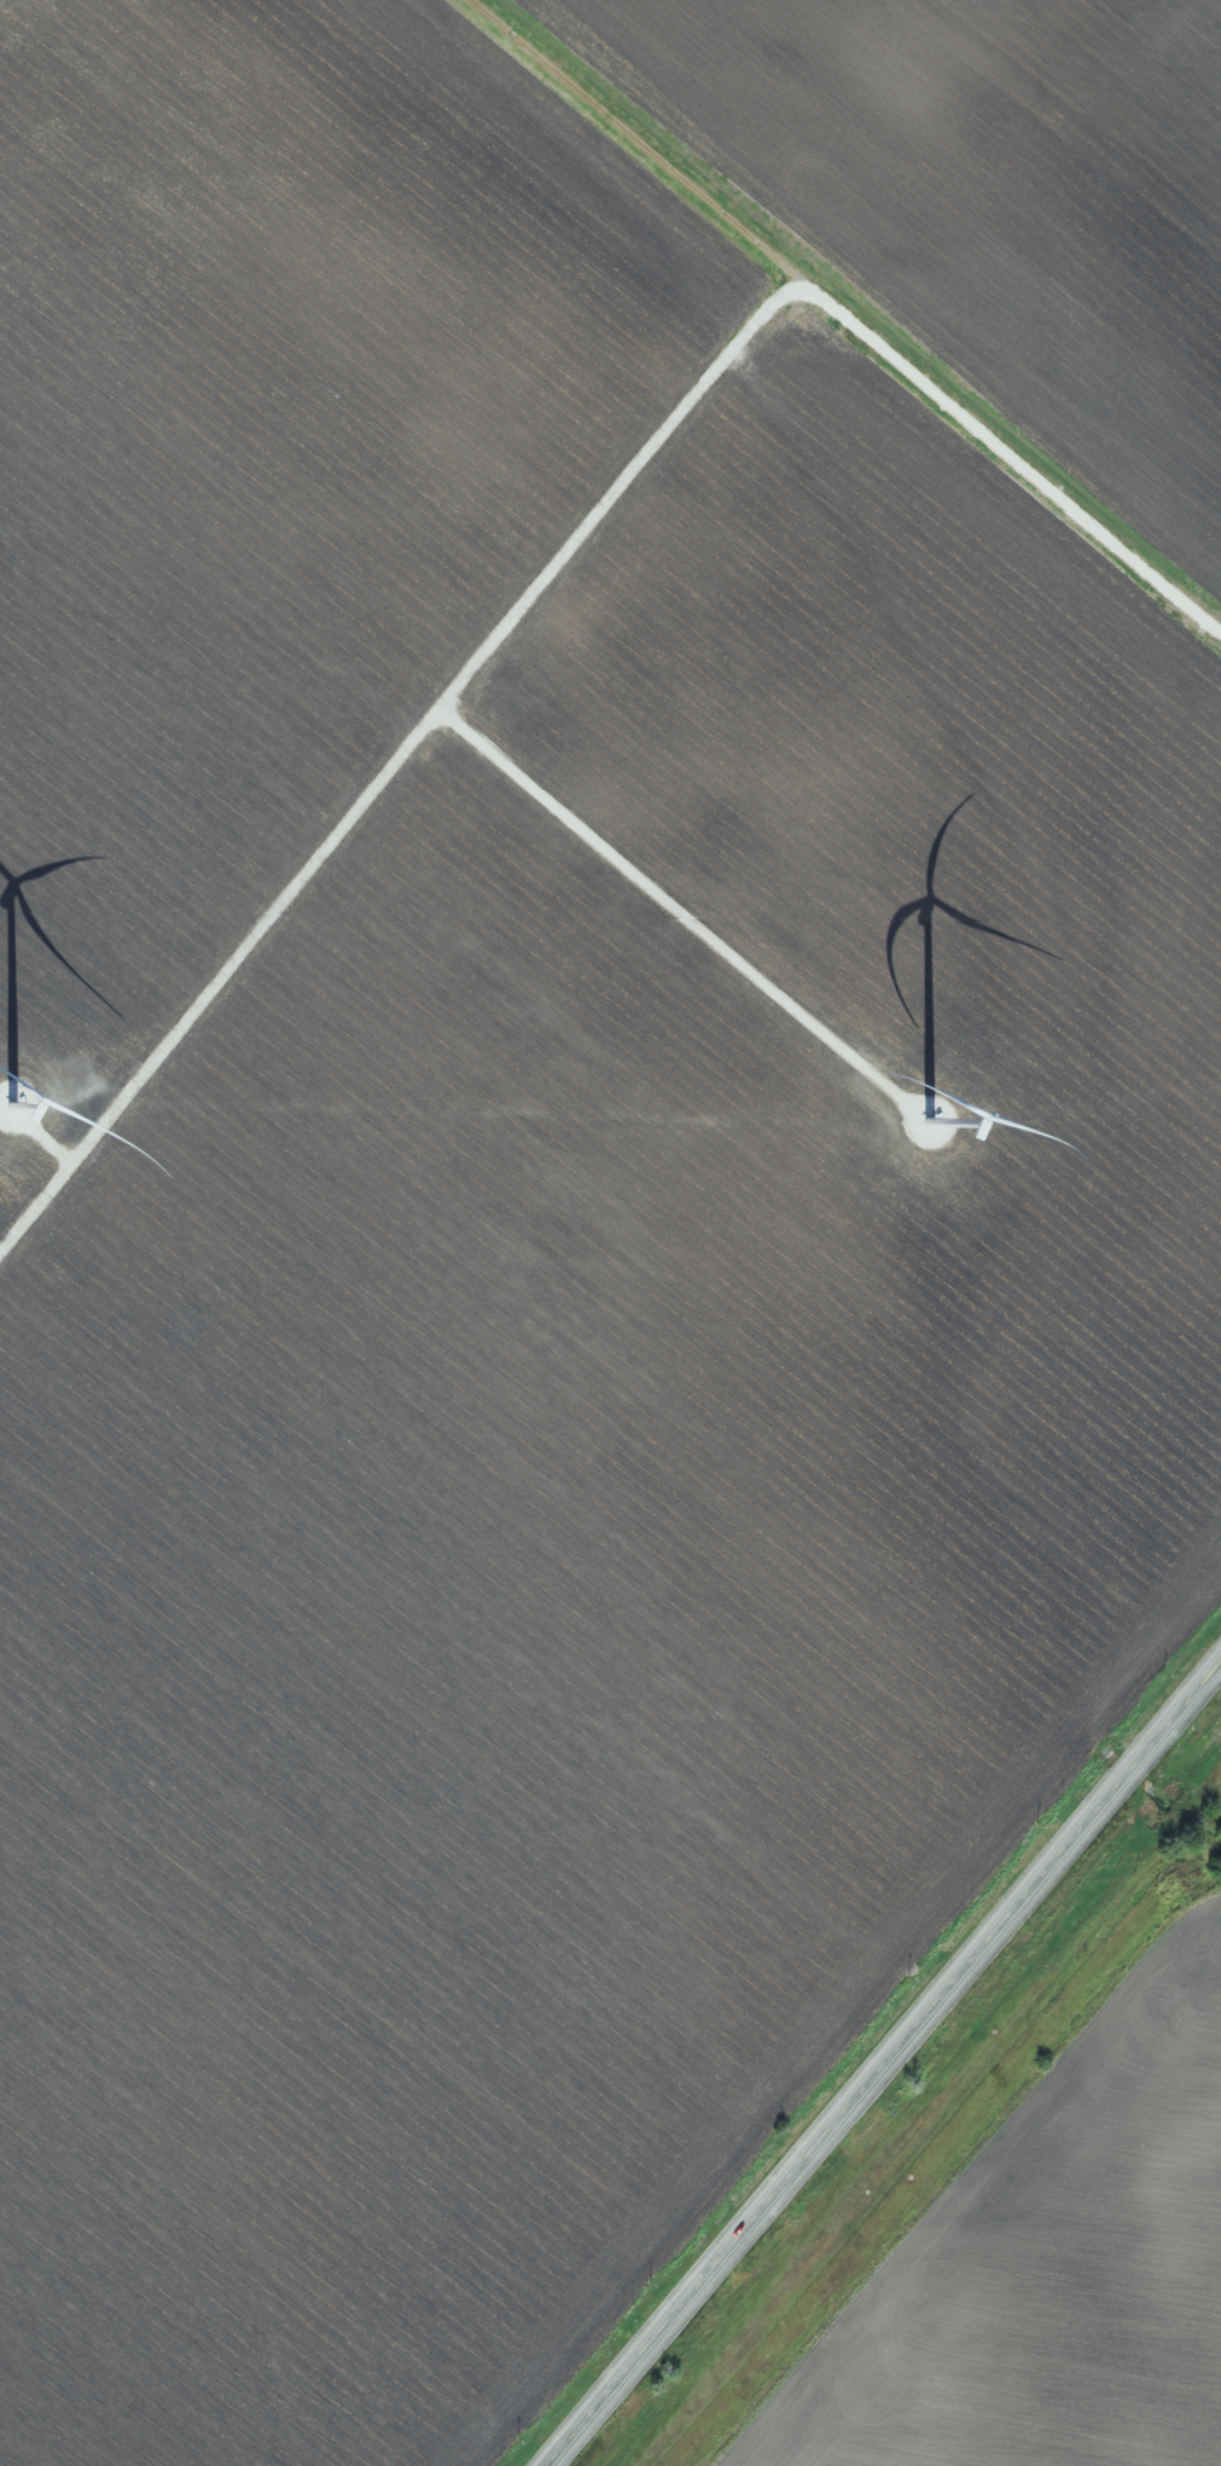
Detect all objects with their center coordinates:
wind turbine: (24, 1101)
wind turbine: (923, 1114)
road: (883, 2064)
railway: (929, 2118)

